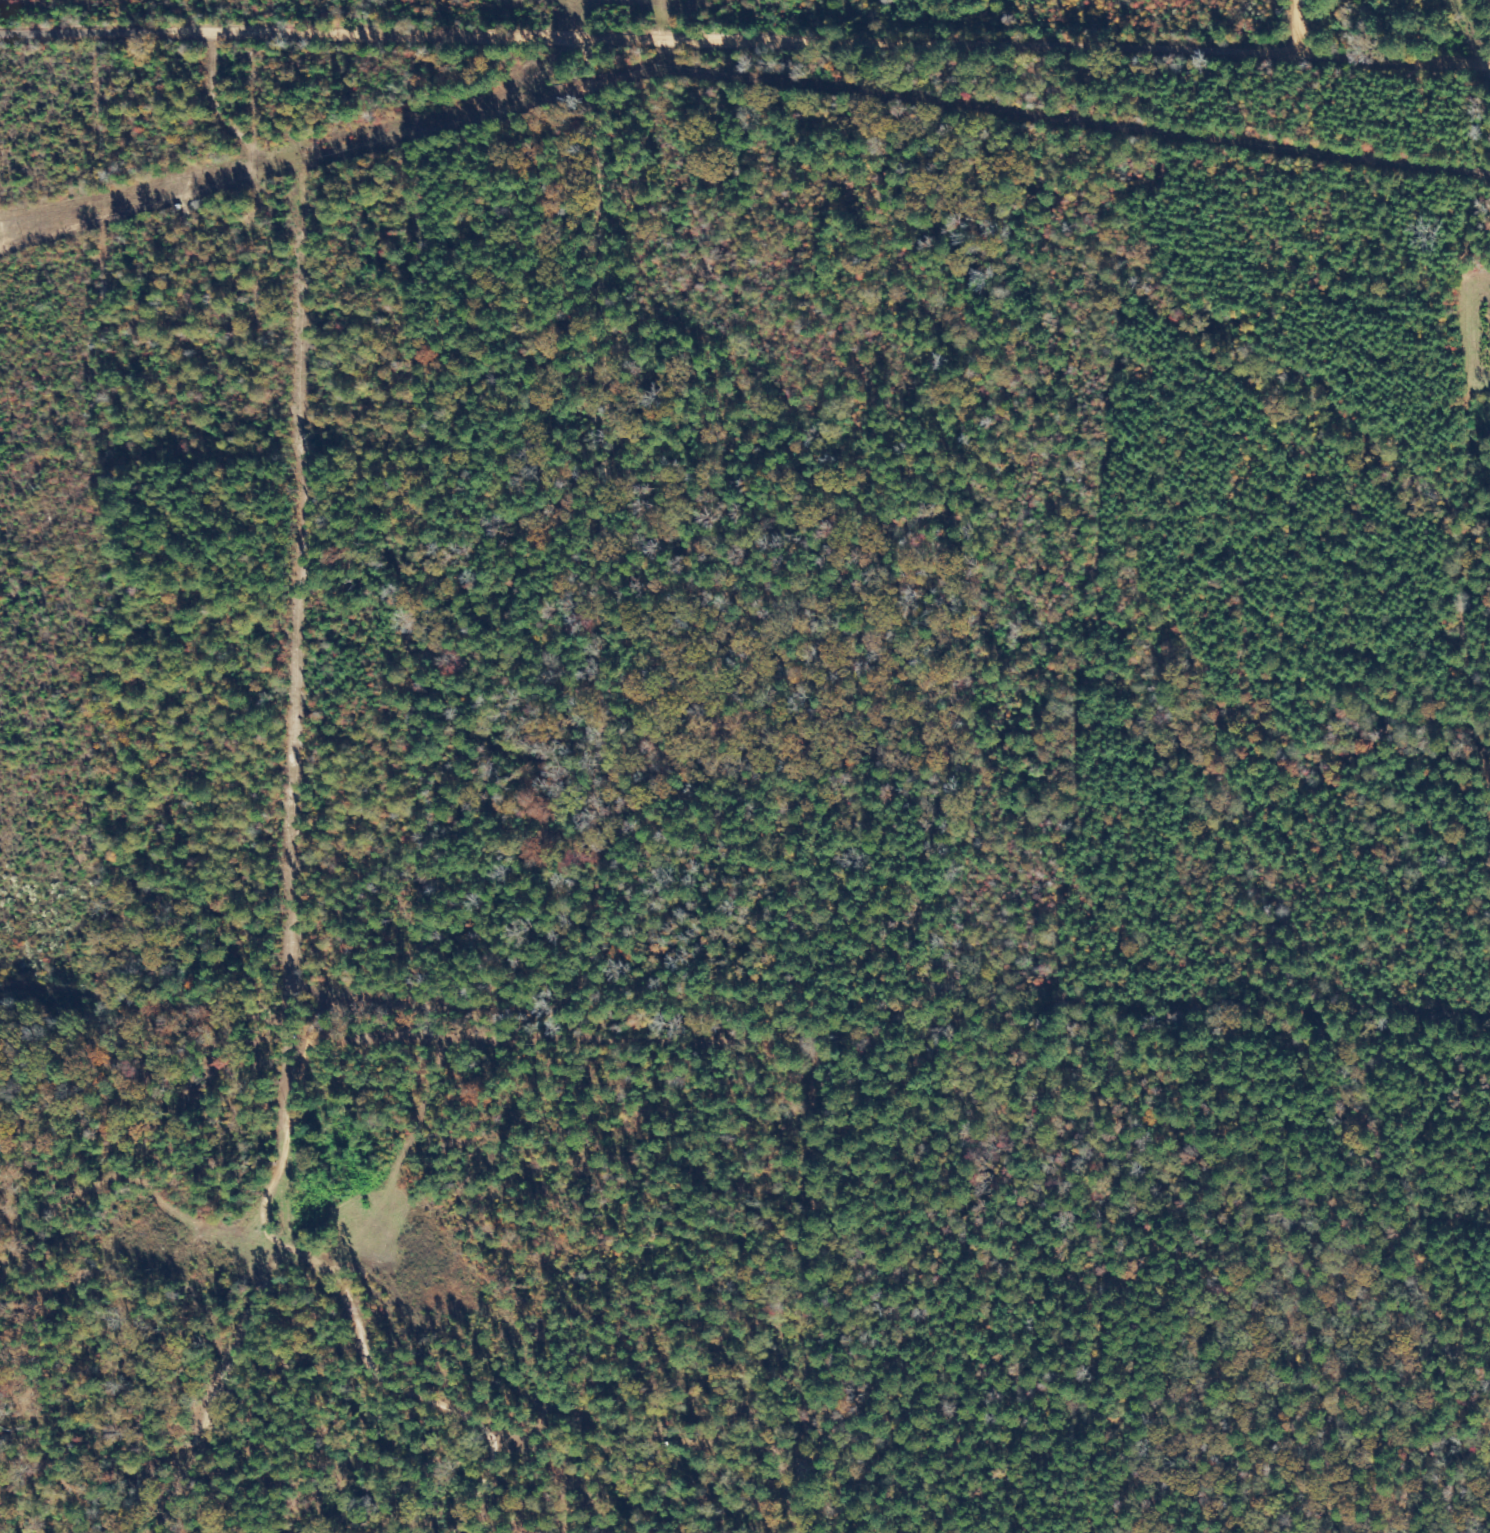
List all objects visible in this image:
road: (1305, 25)
road: (745, 40)

